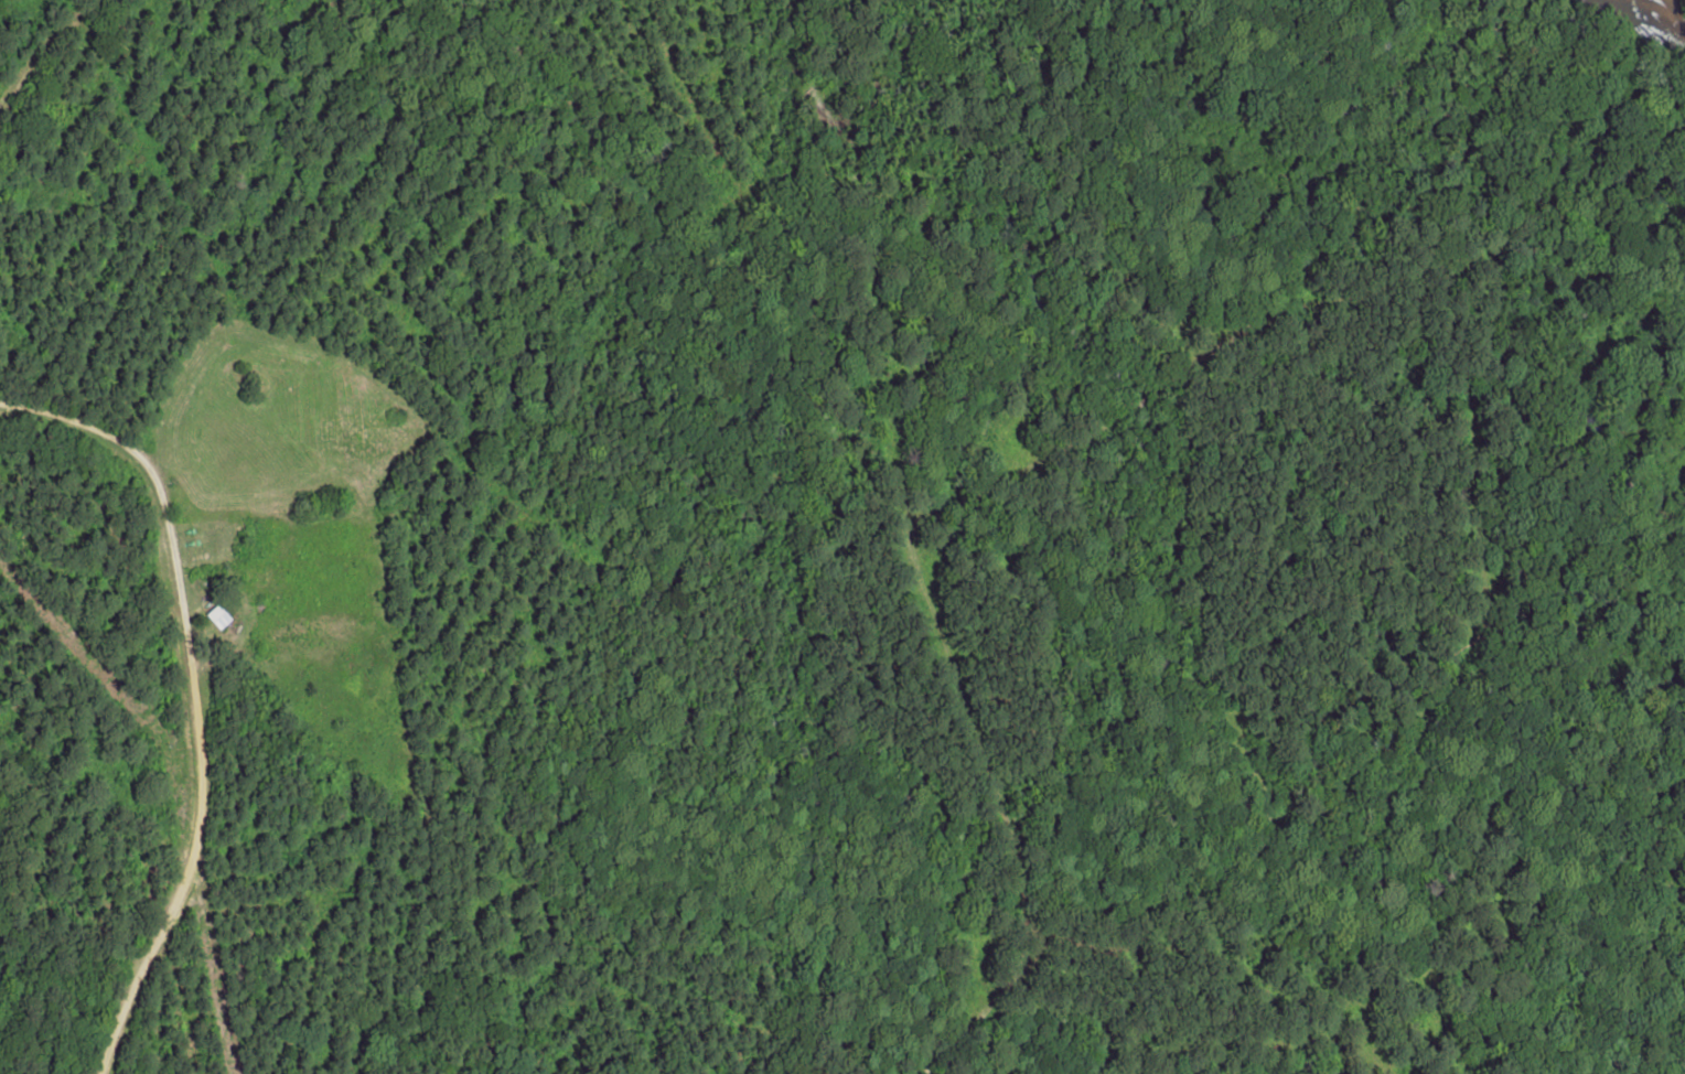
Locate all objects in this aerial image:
road: (175, 702)

